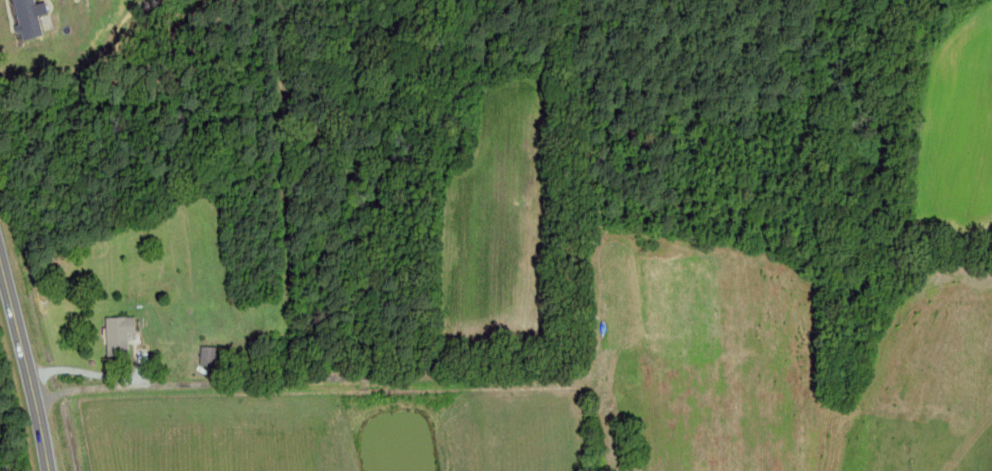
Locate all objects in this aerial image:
building: (33, 16)
road: (838, 77)
building: (116, 334)
building: (207, 356)
road: (26, 361)
crop: (433, 368)
road: (127, 380)

